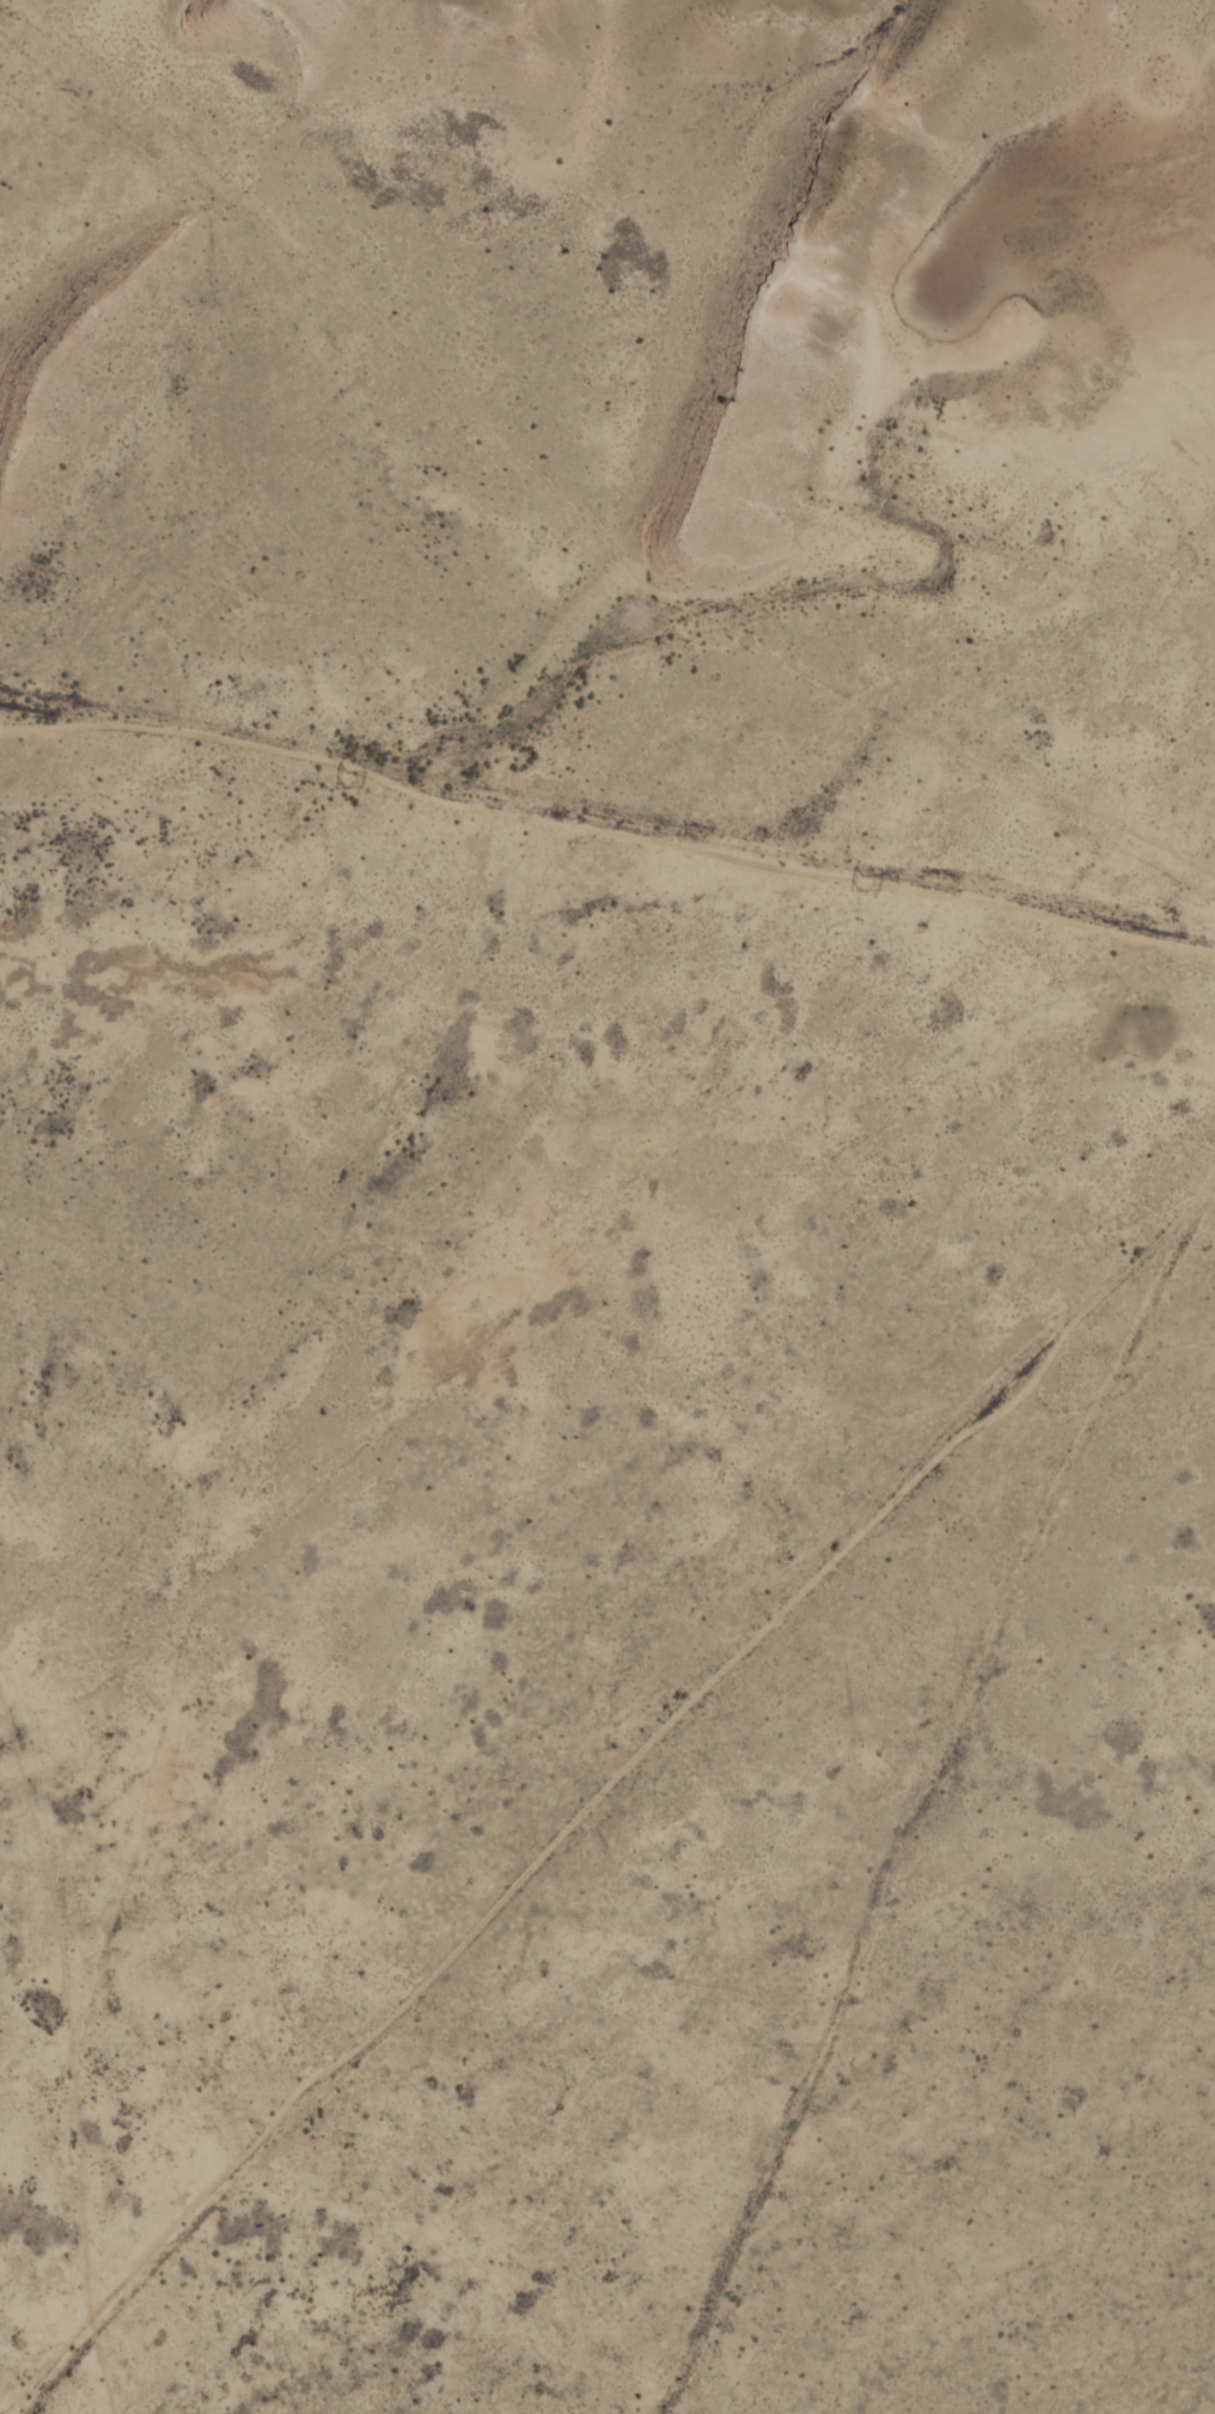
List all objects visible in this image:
power tower: (343, 776)
power tower: (859, 882)
road: (616, 1788)

